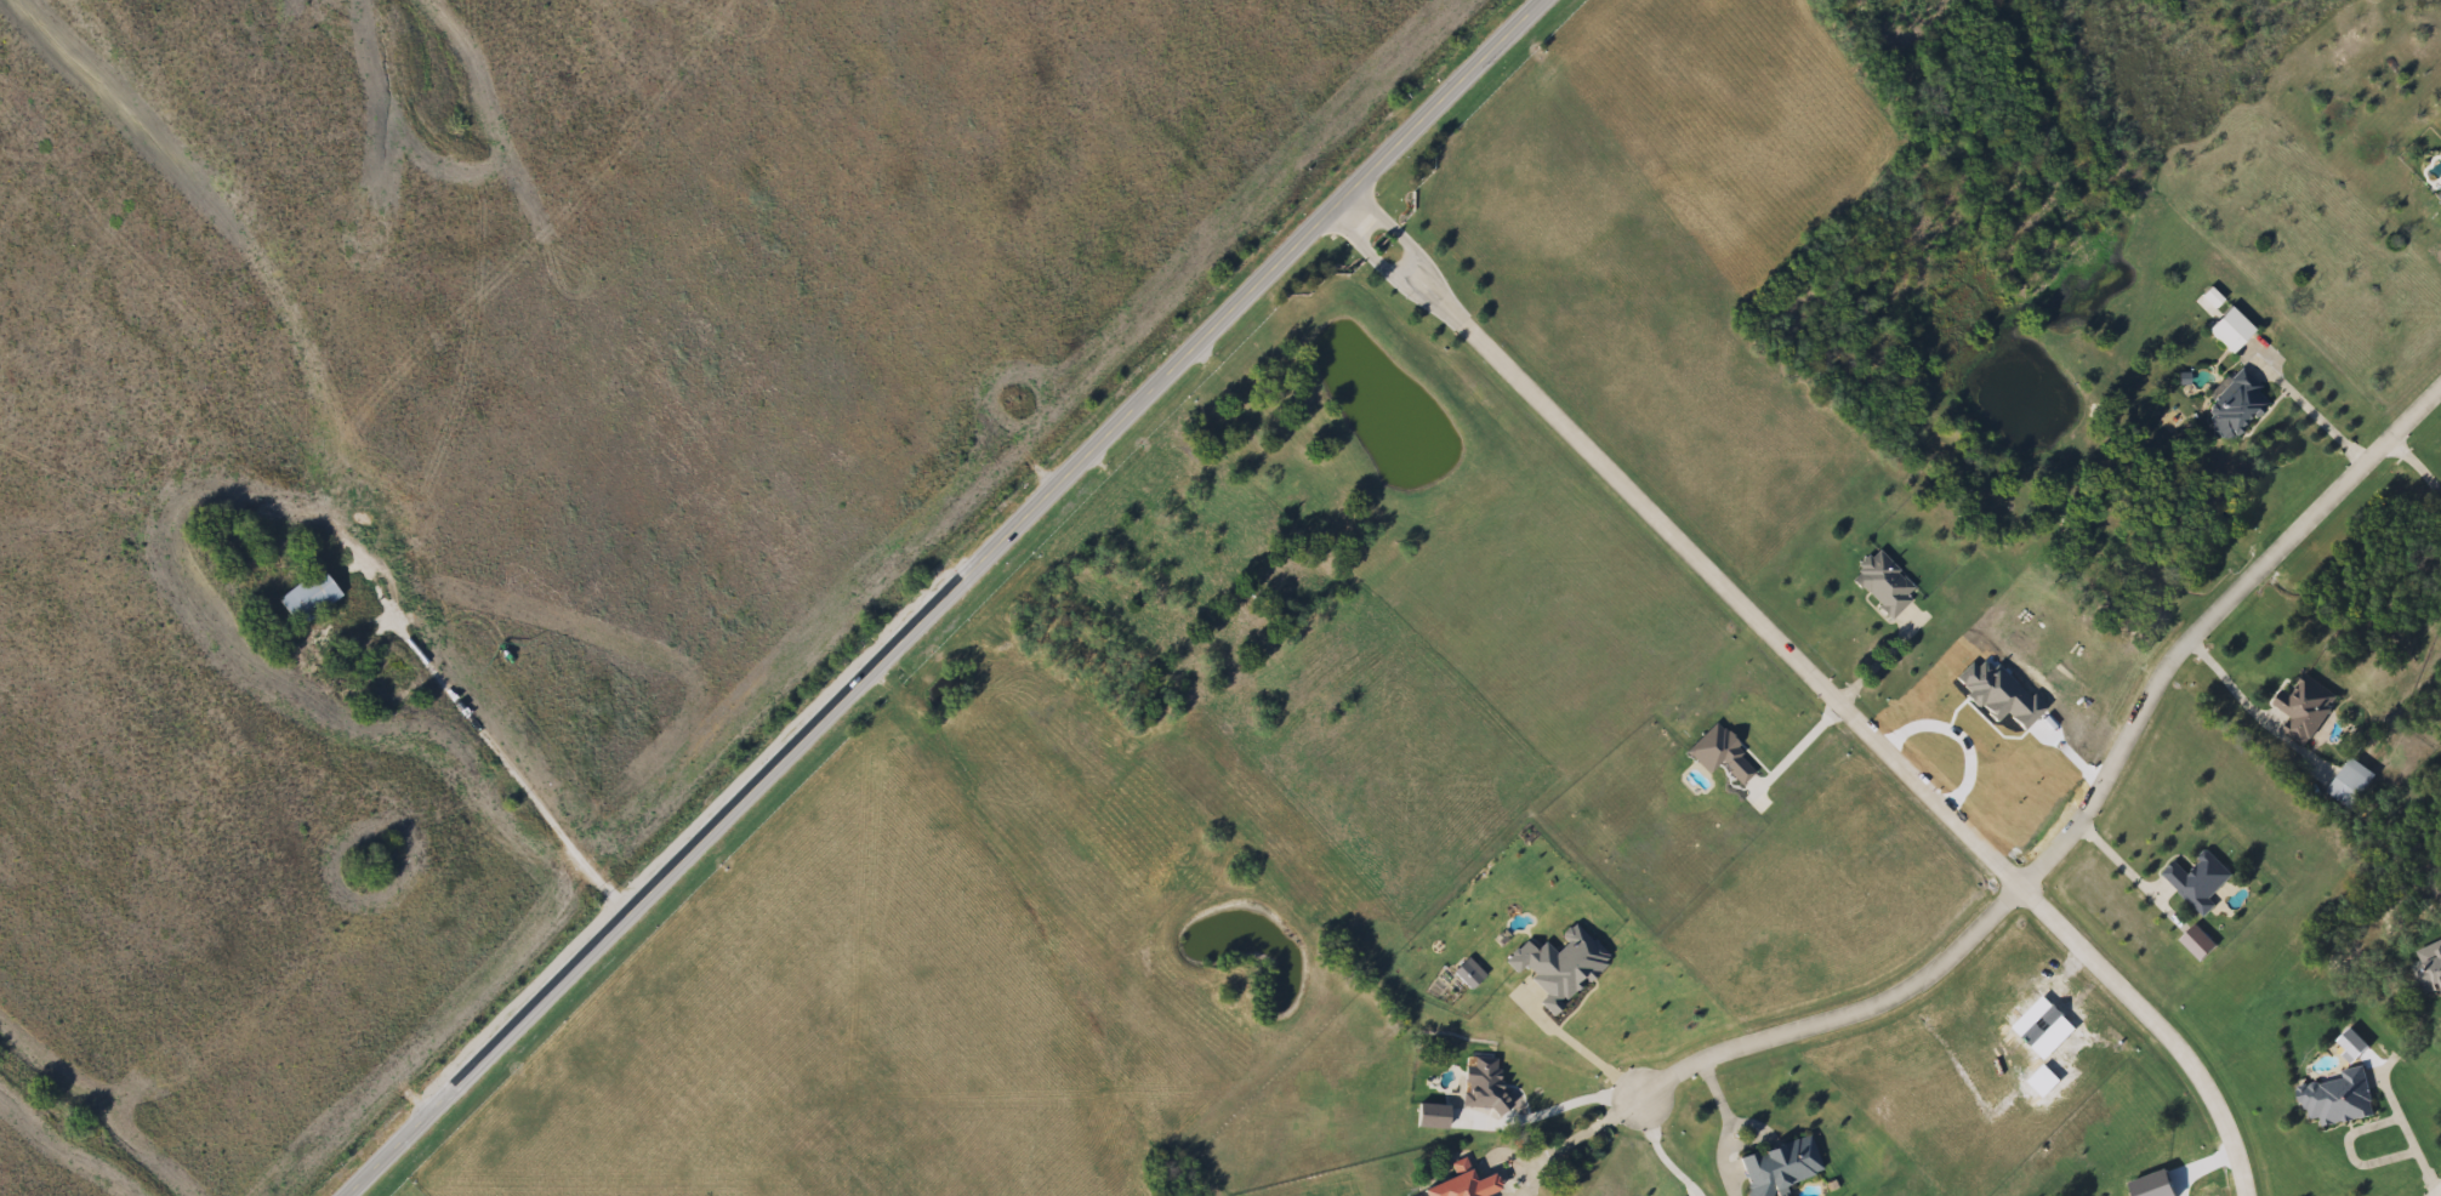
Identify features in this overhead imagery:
road: (1395, 228)
road: (1369, 254)
building: (2241, 408)
road: (2314, 411)
road: (1296, 439)
road: (2417, 471)
building: (1890, 583)
road: (934, 594)
building: (318, 597)
road: (2209, 622)
road: (1878, 657)
road: (2225, 685)
building: (2301, 706)
road: (1857, 722)
road: (483, 746)
road: (2007, 774)
building: (2346, 784)
building: (2195, 882)
building: (2429, 963)
road: (1847, 1014)
road: (1593, 1061)
building: (2334, 1098)
road: (1563, 1107)
road: (1731, 1127)
road: (2409, 1135)
road: (1580, 1138)
building: (1786, 1167)
building: (1473, 1186)

